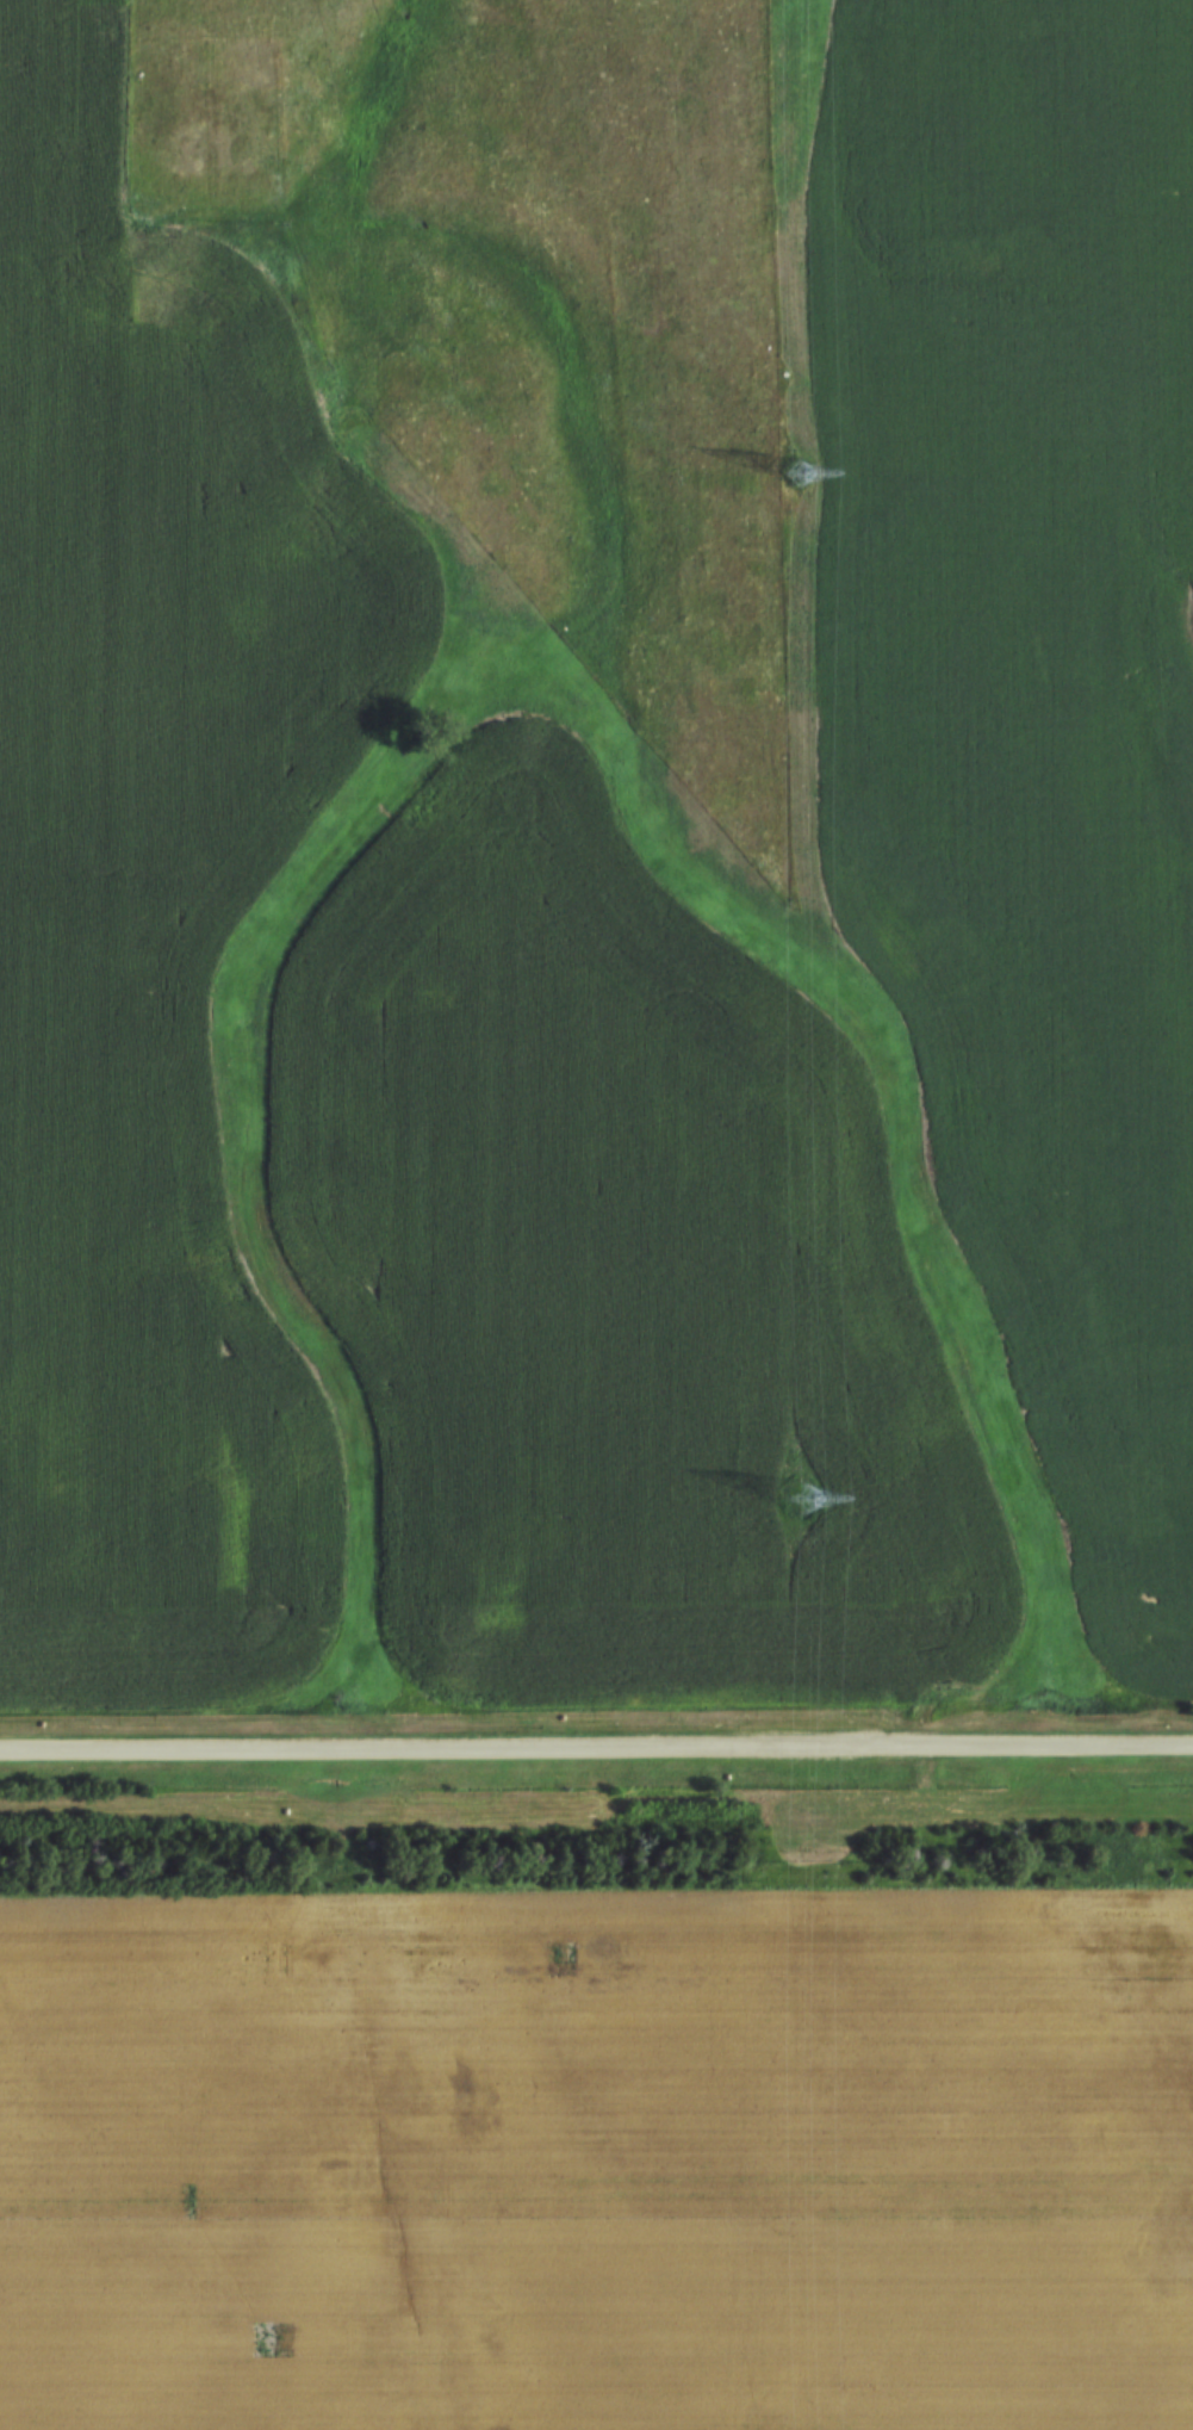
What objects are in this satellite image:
power tower: (795, 477)
power tower: (801, 1505)
road: (965, 1747)
road: (368, 1748)

